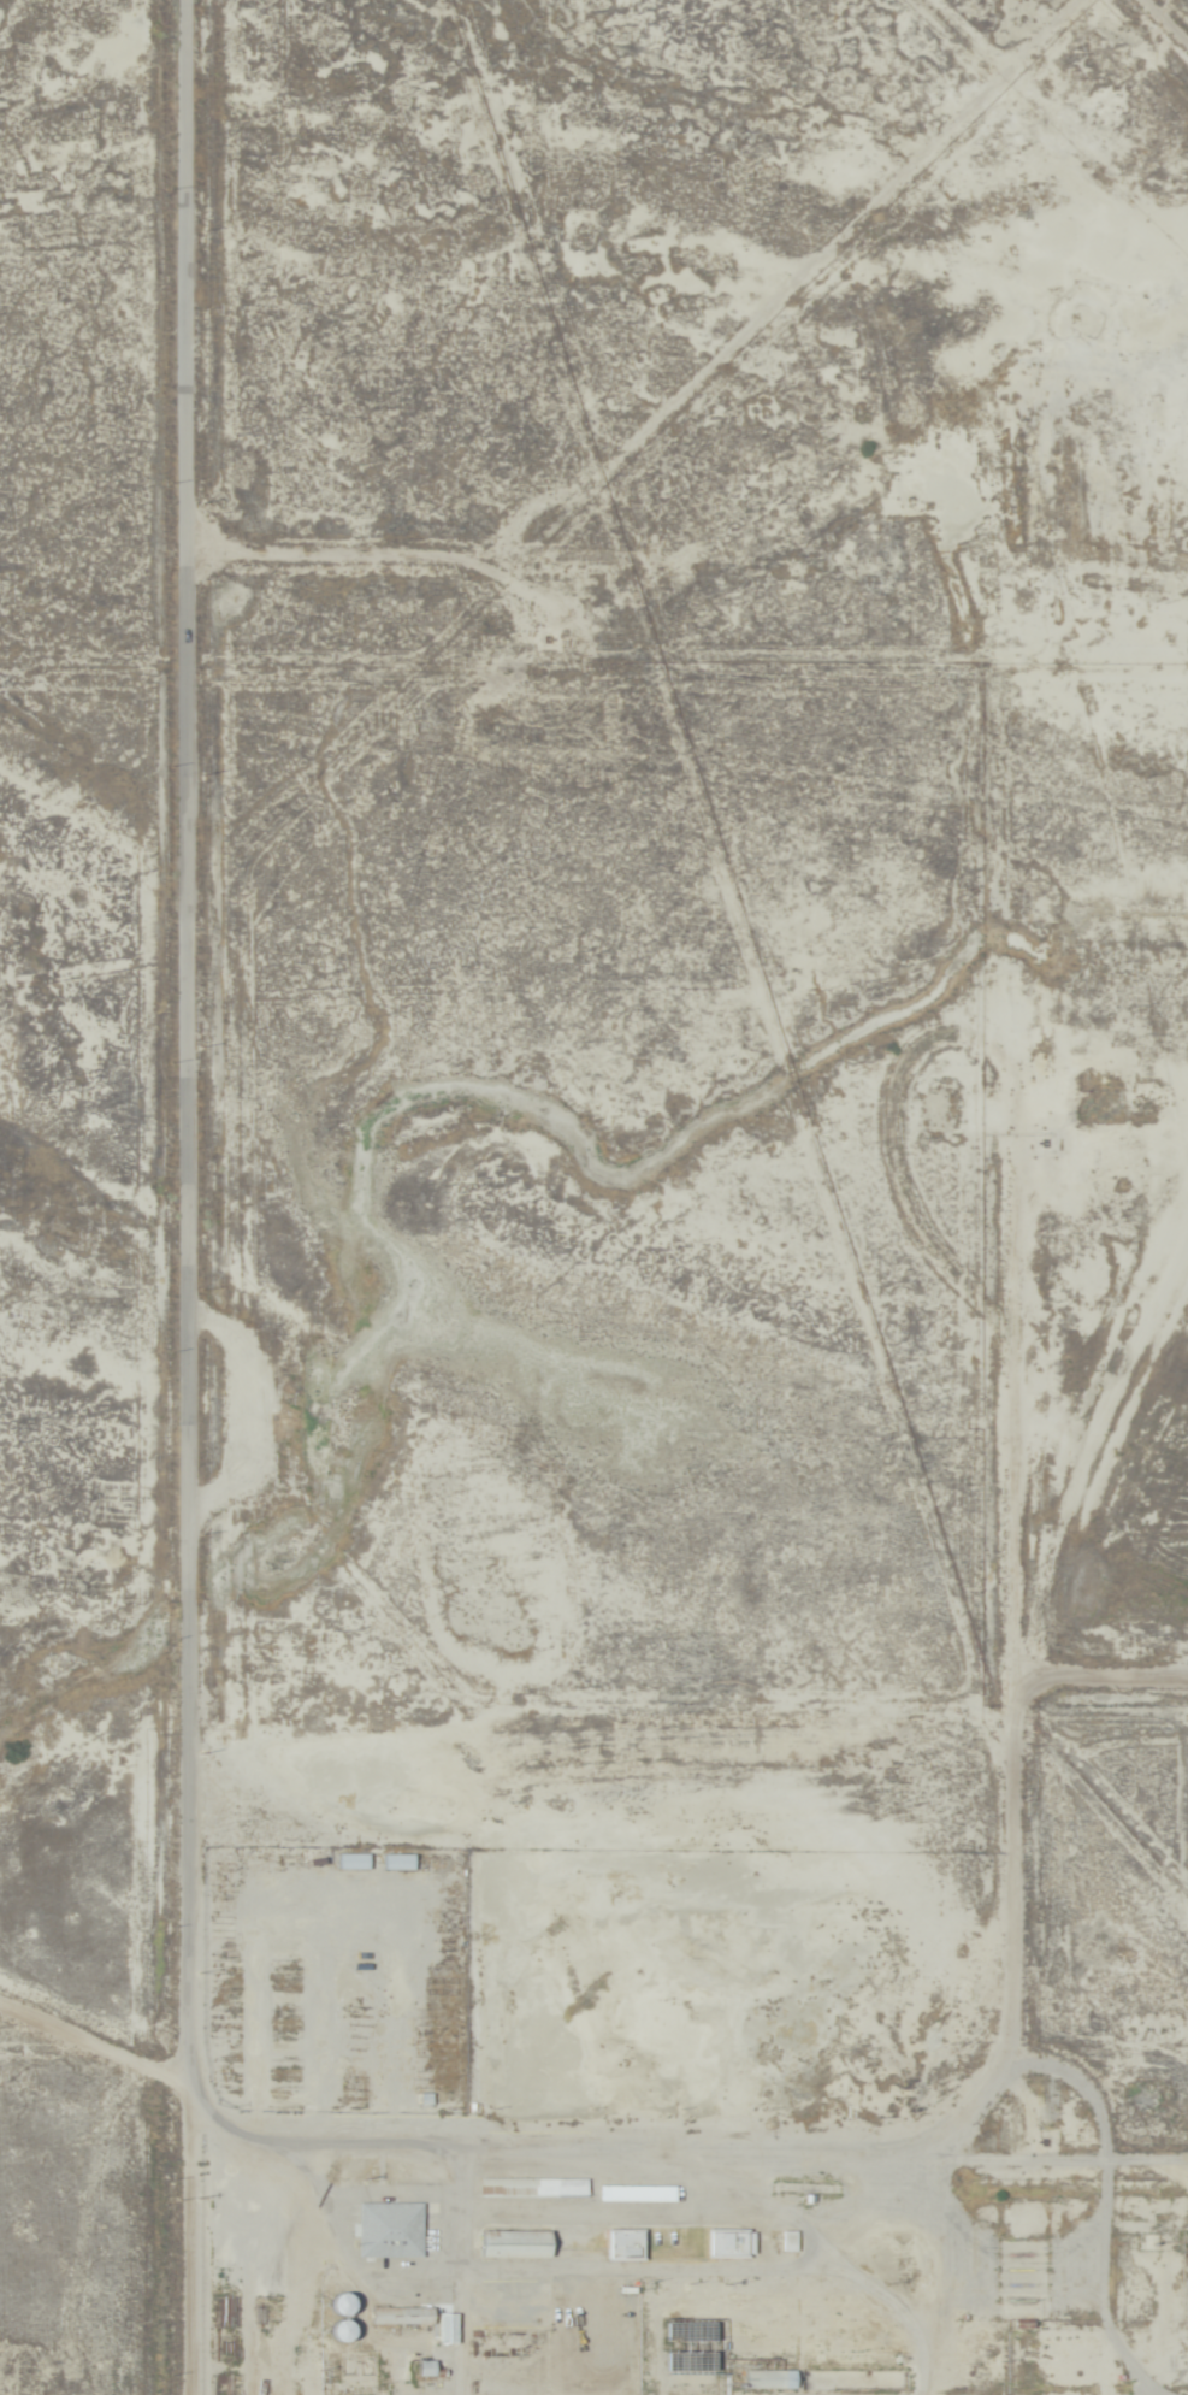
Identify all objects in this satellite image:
road: (360, 562)
road: (179, 1214)
road: (1070, 1736)
building: (350, 1862)
building: (396, 1862)
building: (280, 2019)
road: (843, 2100)
building: (531, 2188)
building: (637, 2194)
building: (388, 2230)
building: (727, 2243)
building: (509, 2244)
building: (622, 2244)
building: (337, 2303)
building: (398, 2316)
building: (337, 2330)
building: (767, 2378)

